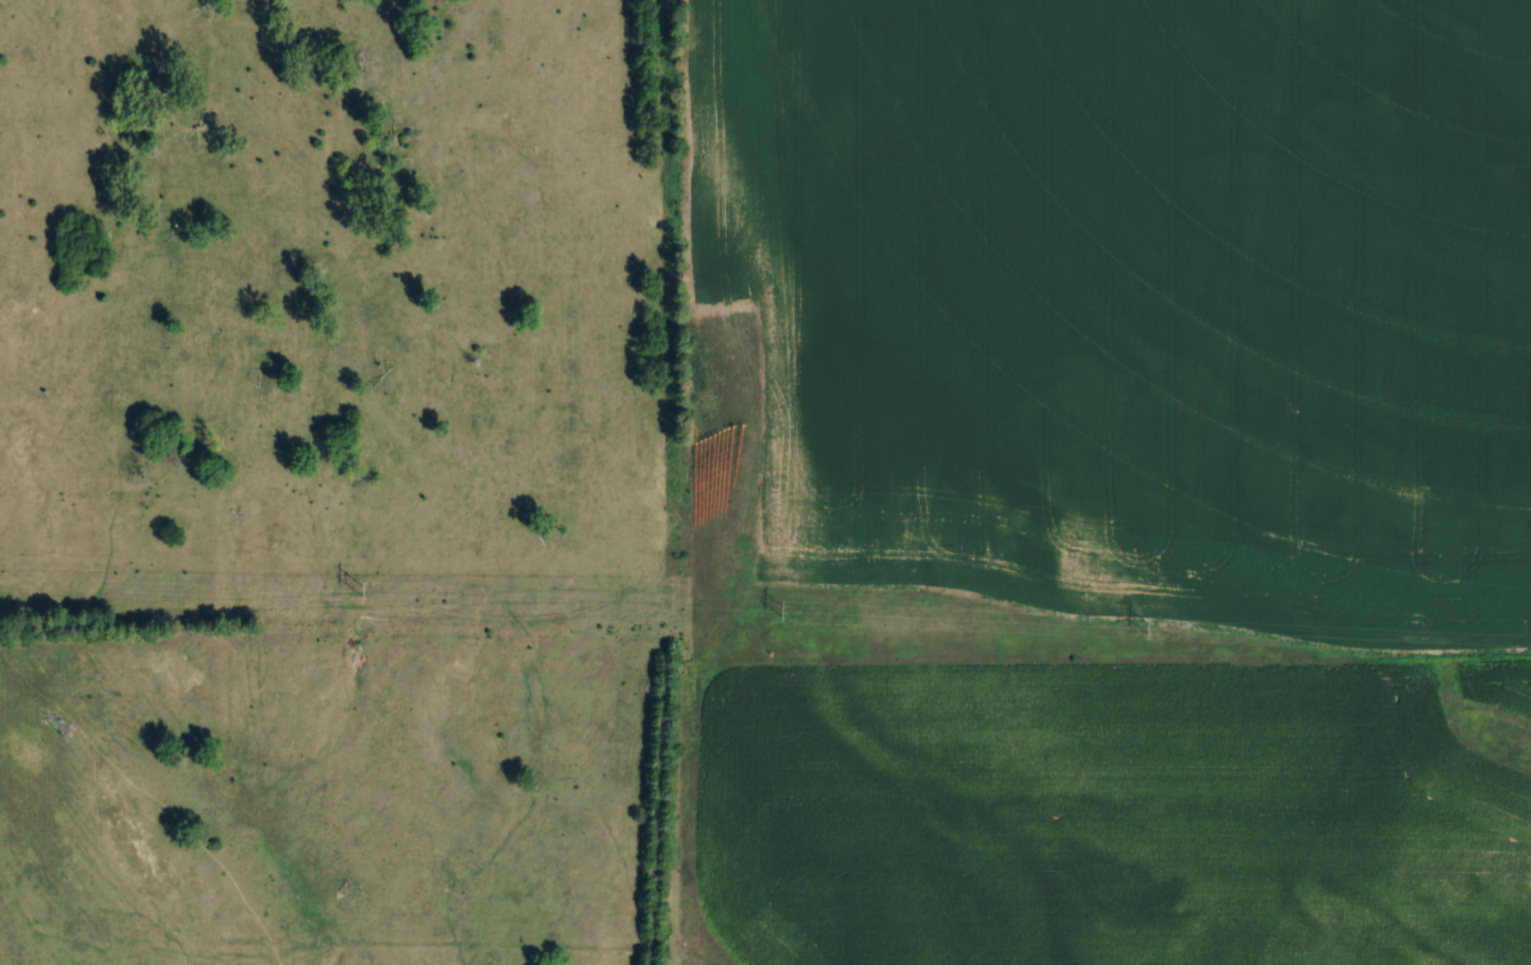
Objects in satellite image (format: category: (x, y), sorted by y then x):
power tower: (364, 589)
power tower: (782, 610)
power tower: (1146, 627)

